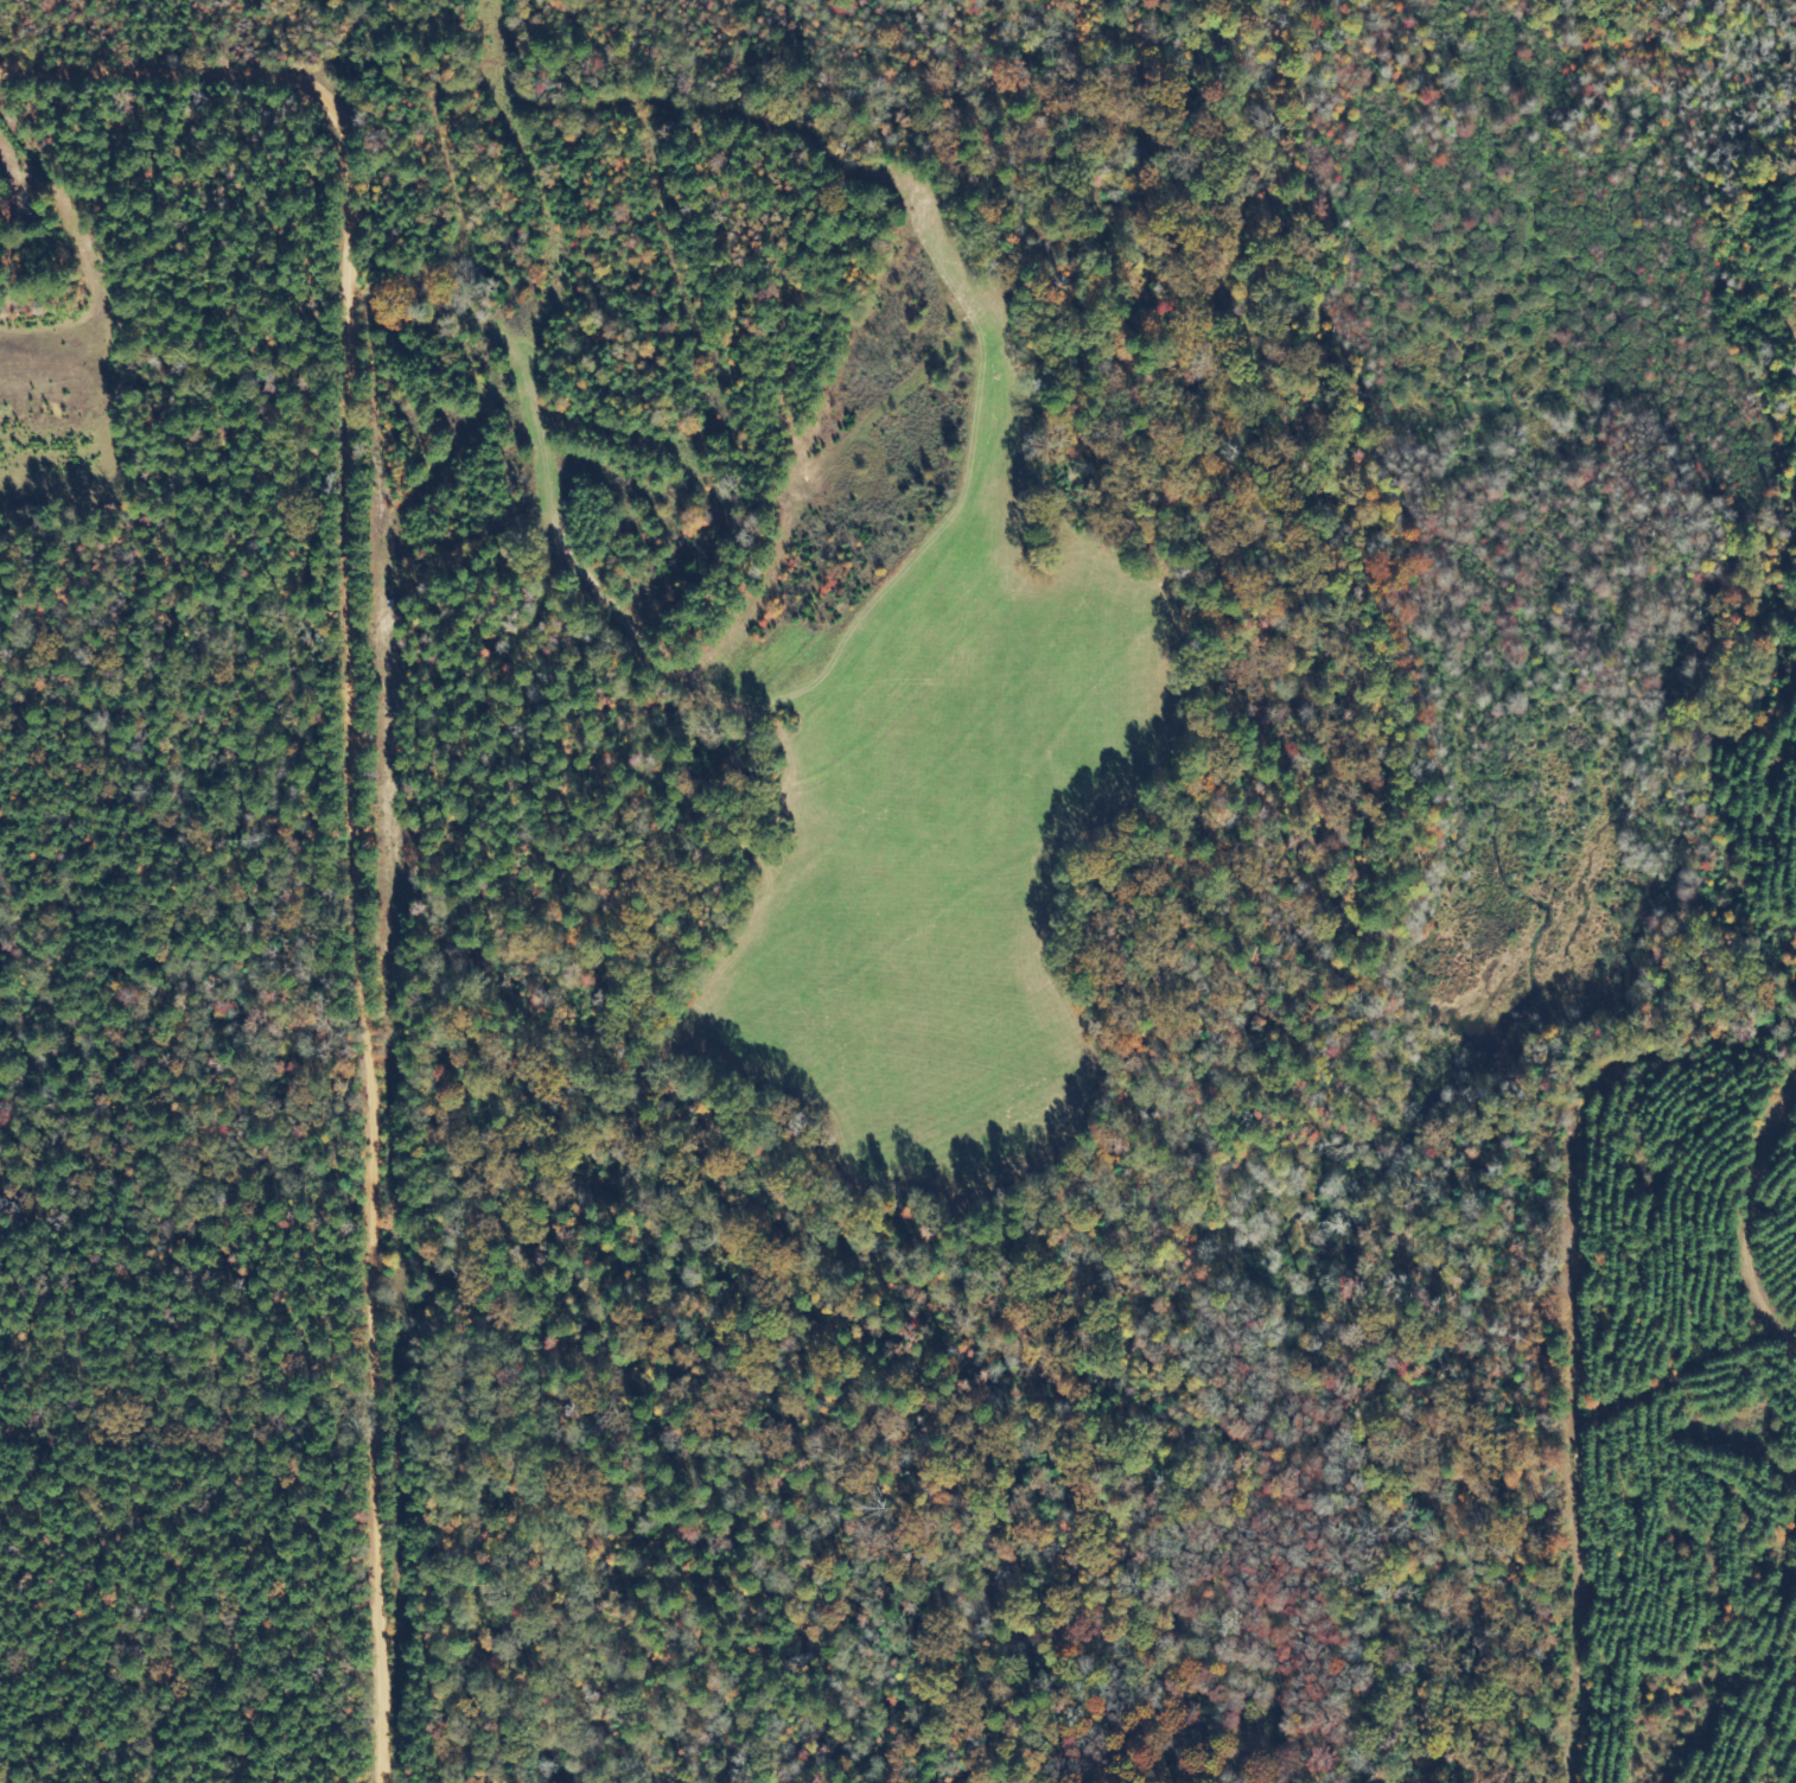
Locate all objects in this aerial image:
road: (187, 77)
road: (362, 956)

